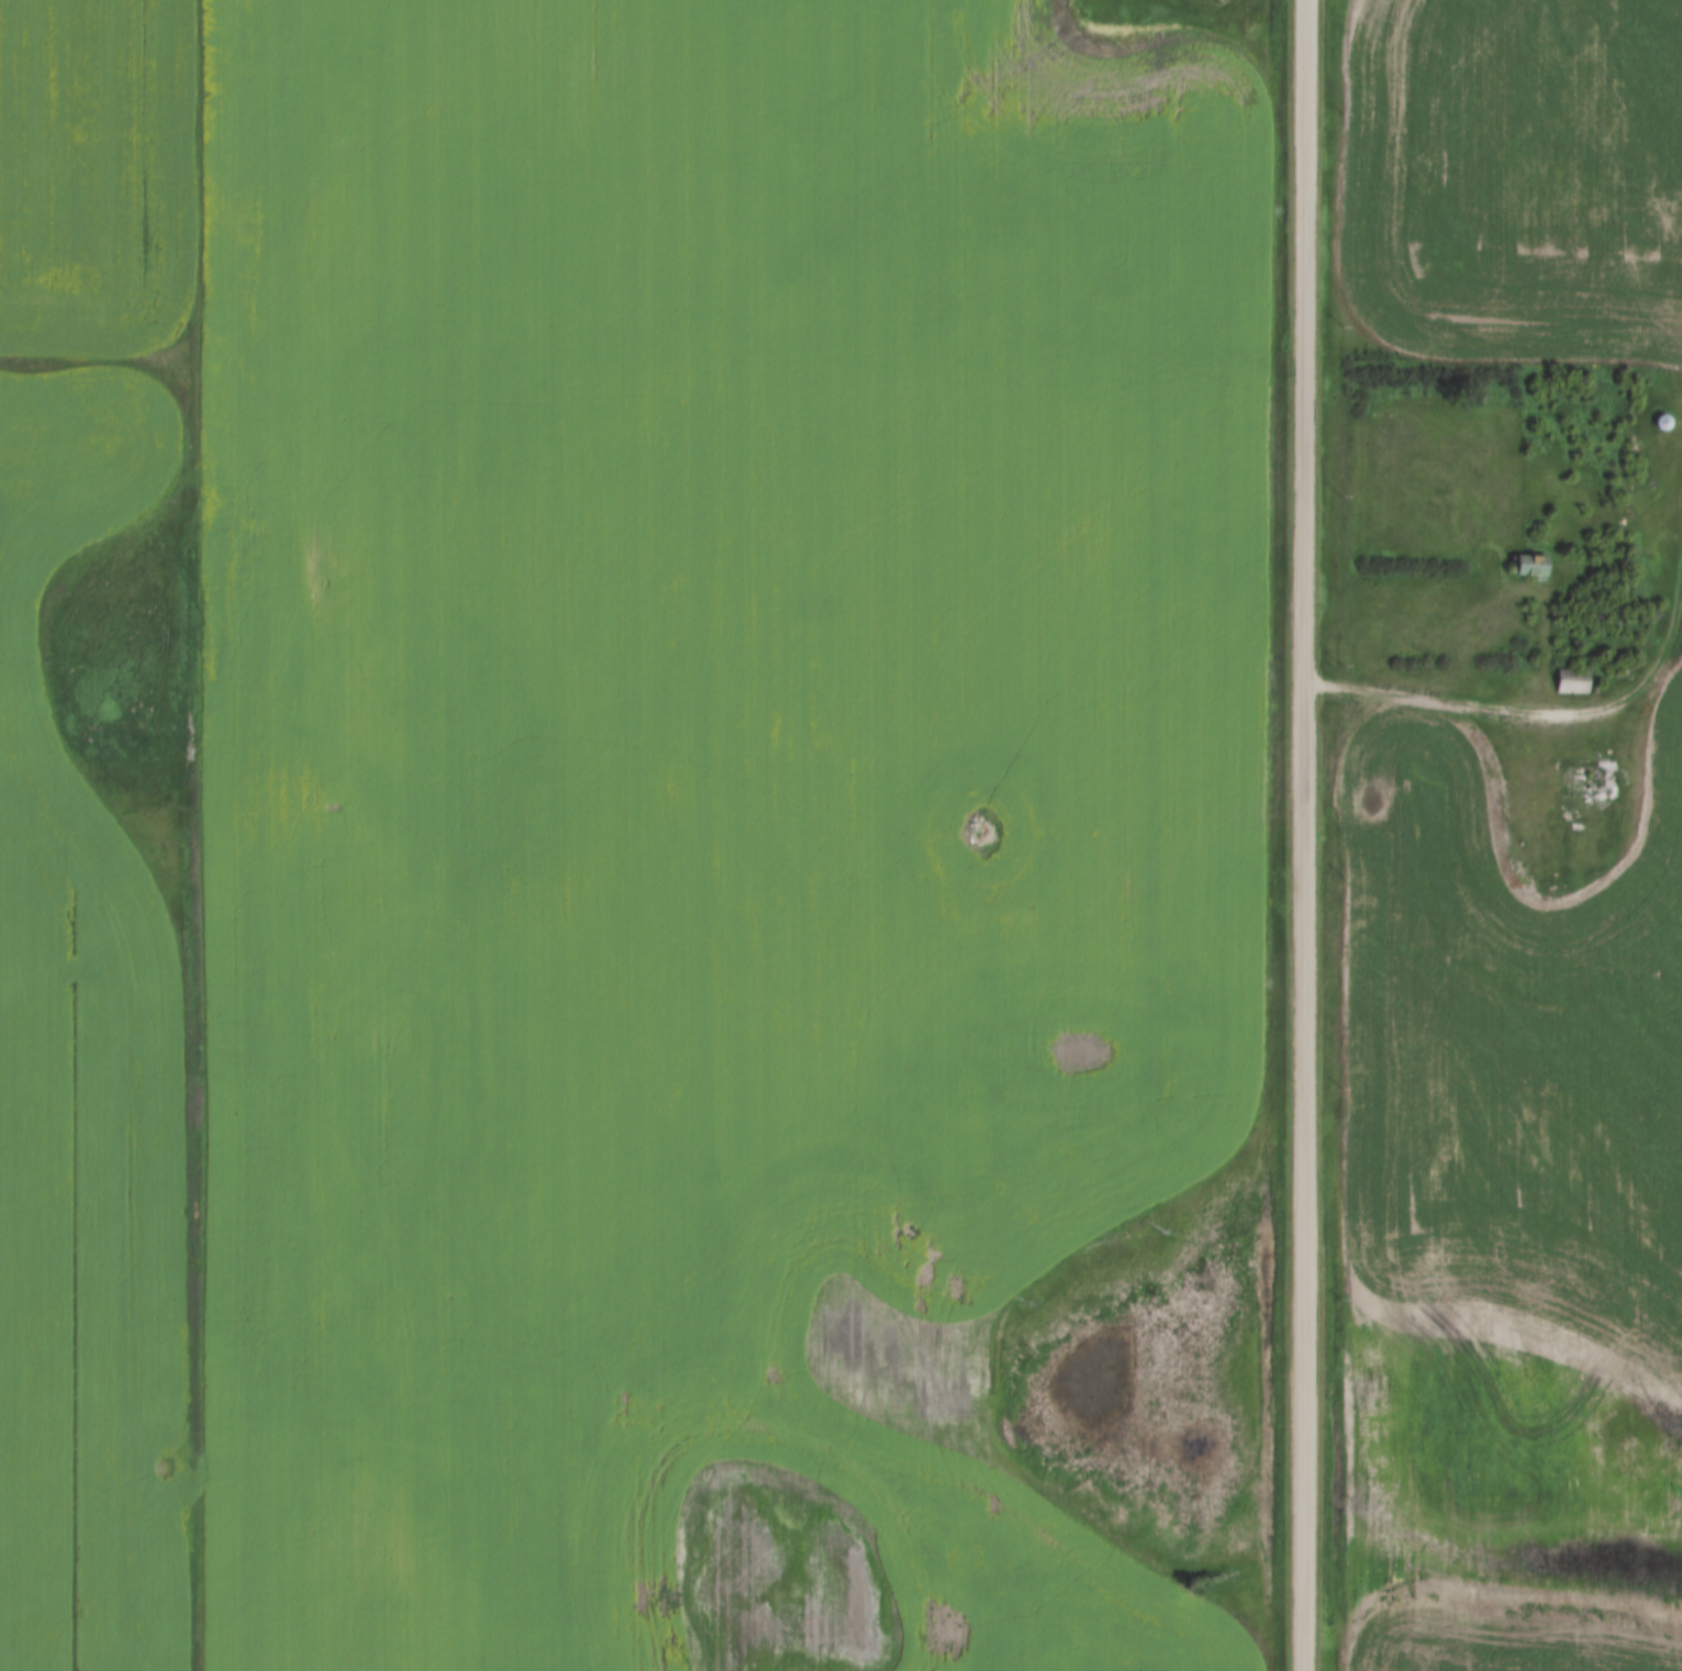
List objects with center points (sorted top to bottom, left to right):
building: (1534, 570)
building: (1573, 681)
road: (1538, 715)
road: (1303, 835)

